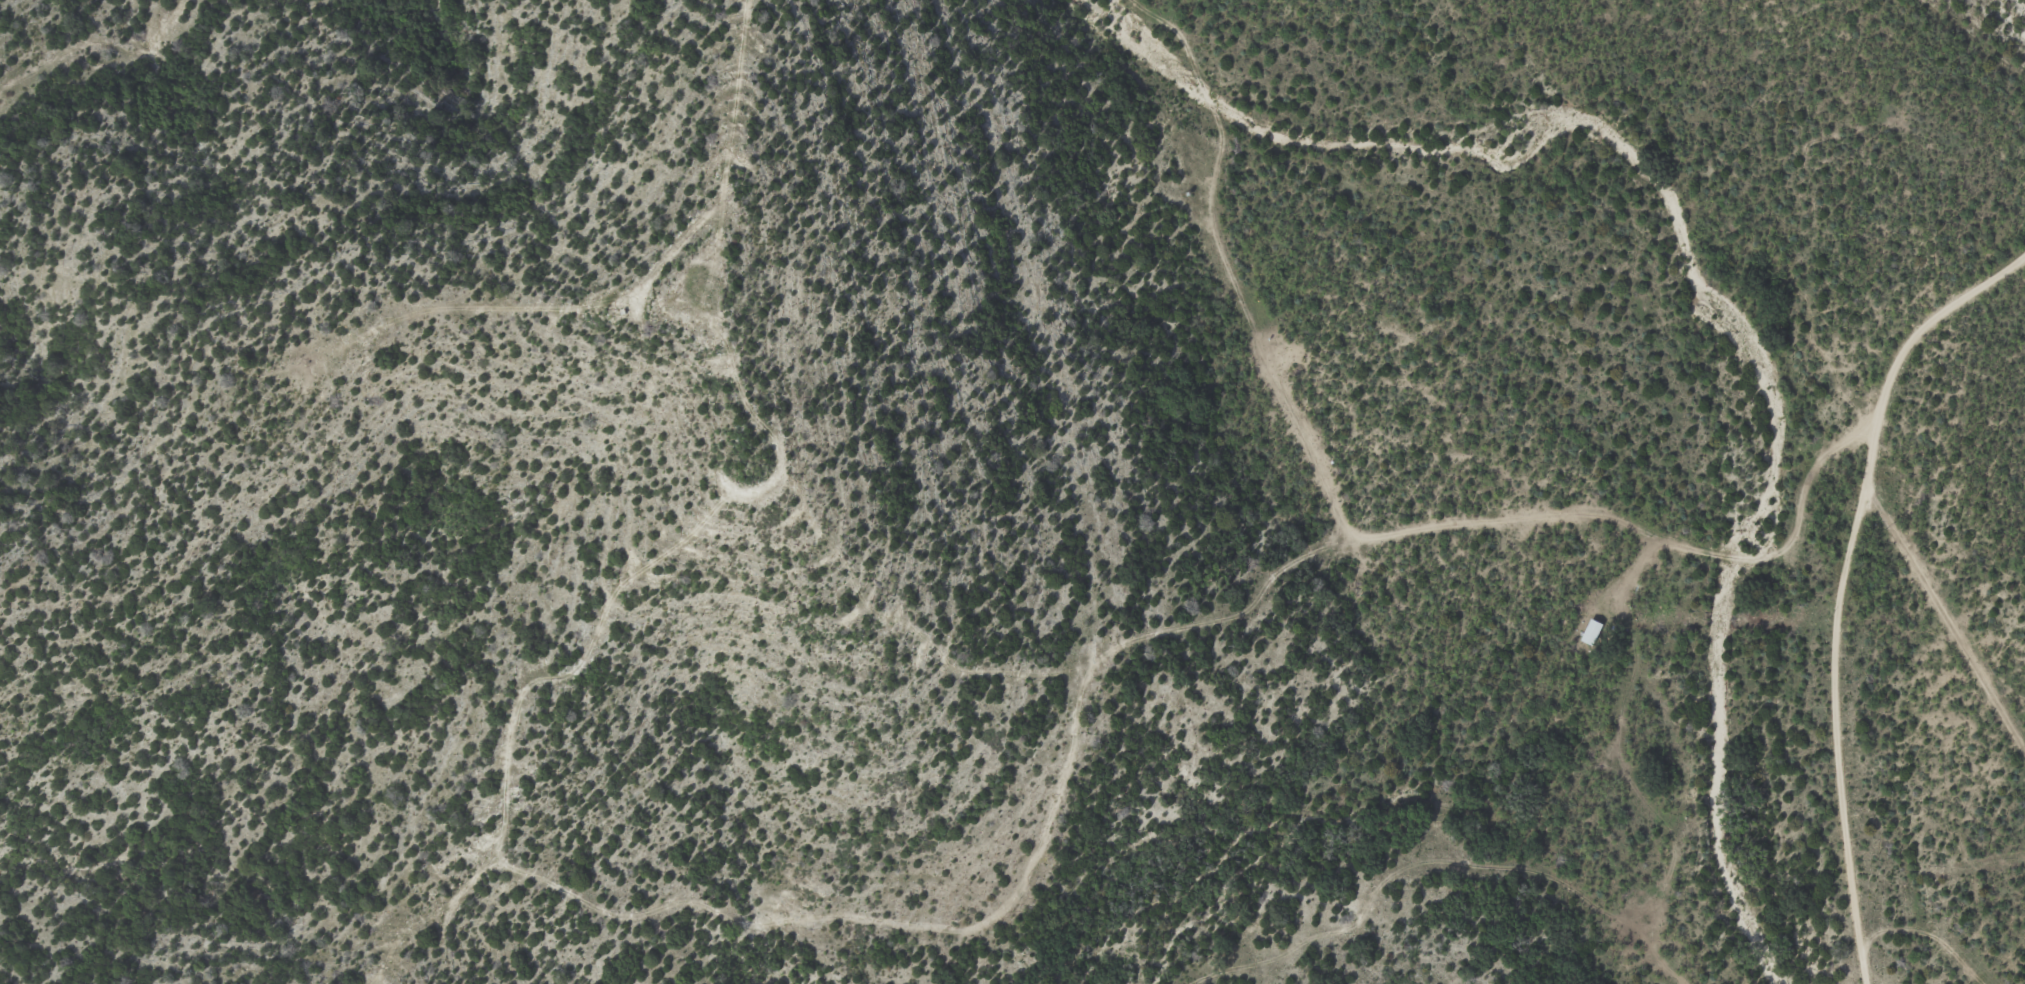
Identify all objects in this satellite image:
road: (1875, 490)
road: (1845, 740)

